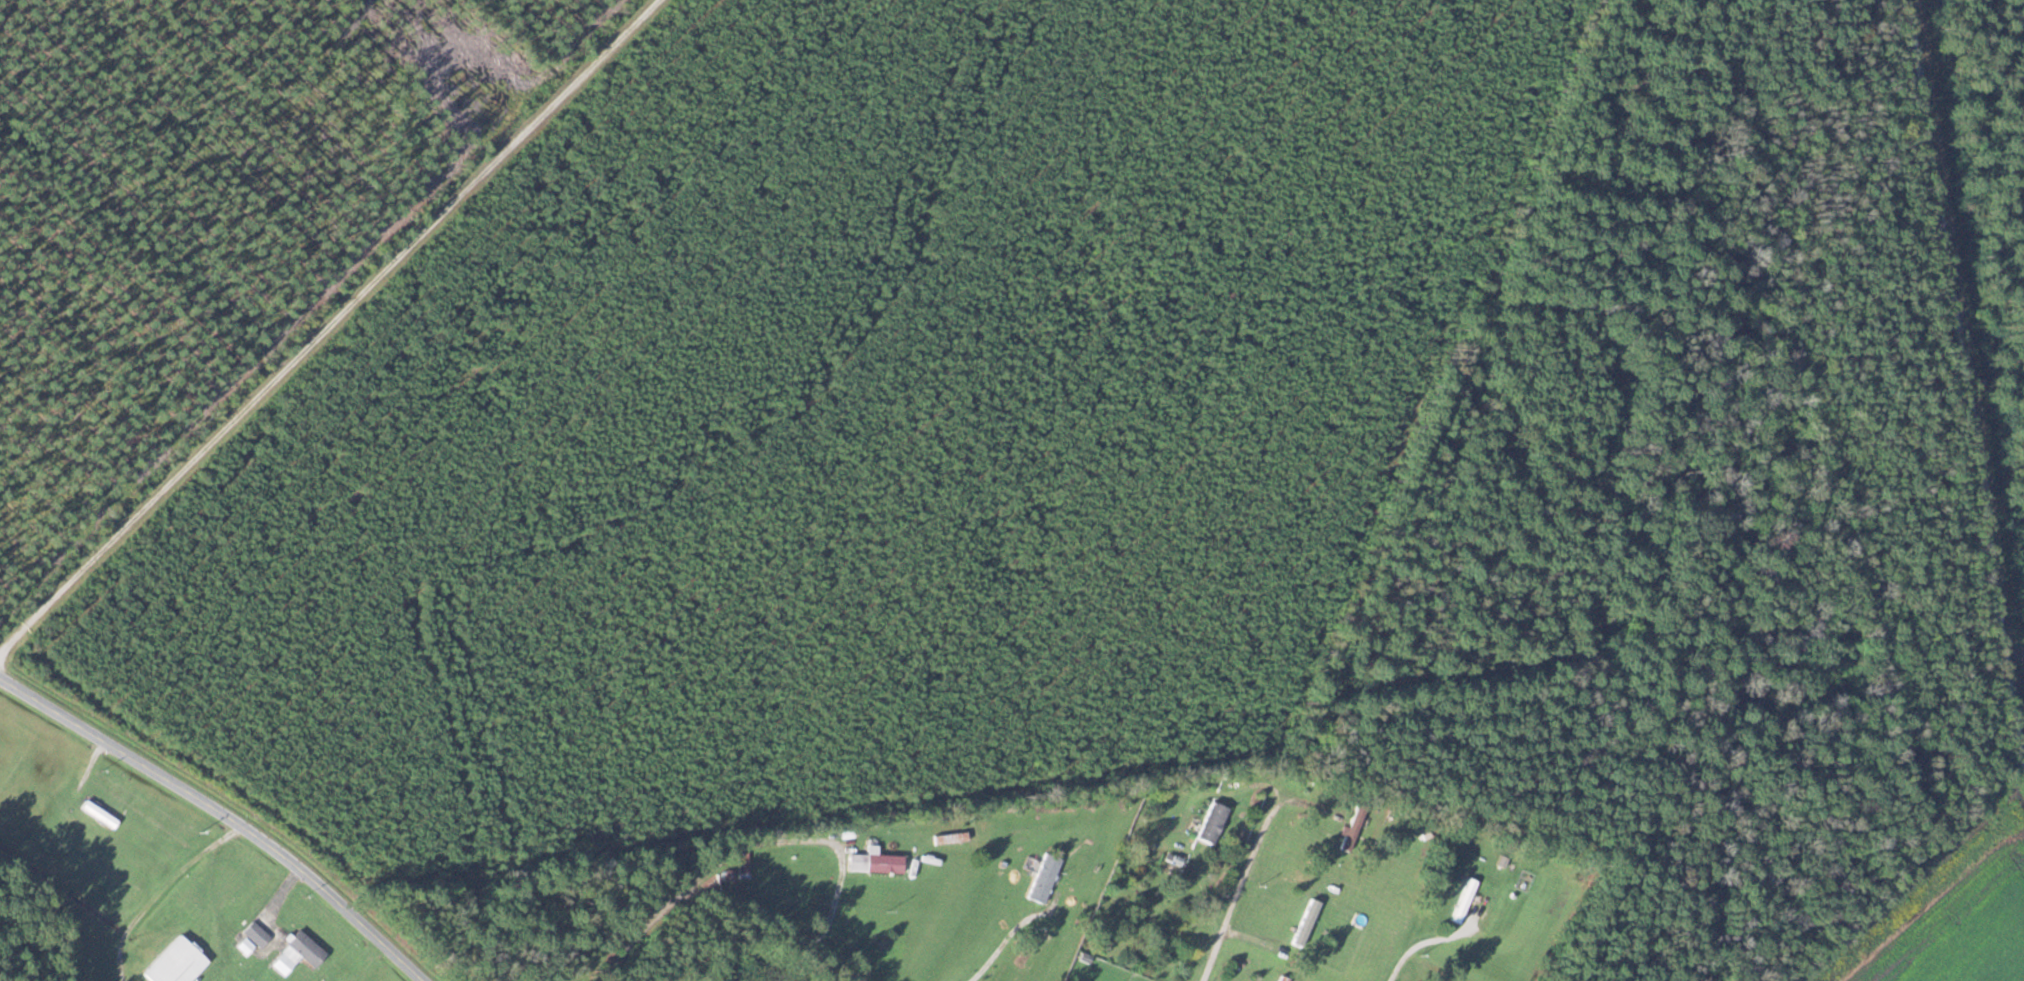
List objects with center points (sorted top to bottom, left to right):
road: (348, 336)
road: (5, 668)
road: (231, 807)
building: (99, 814)
building: (1212, 823)
building: (875, 862)
building: (743, 865)
building: (1044, 878)
road: (1242, 888)
building: (214, 890)
road: (722, 893)
building: (1464, 901)
building: (256, 934)
road: (1432, 944)
building: (305, 949)
building: (1027, 952)
road: (996, 953)
building: (179, 961)
building: (1284, 978)

